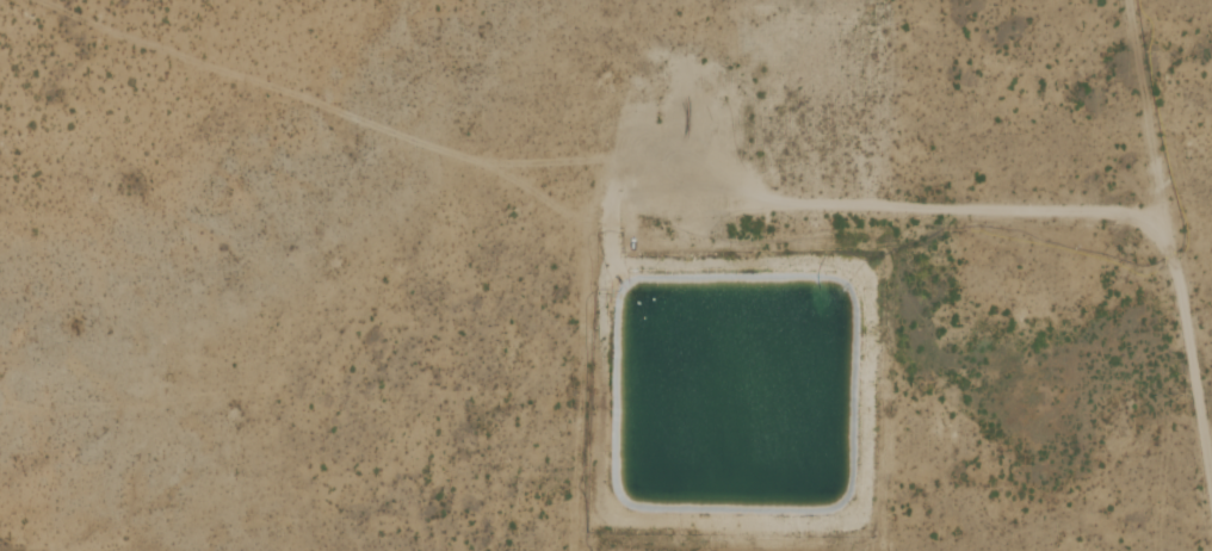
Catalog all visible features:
road: (885, 206)
road: (1165, 252)

